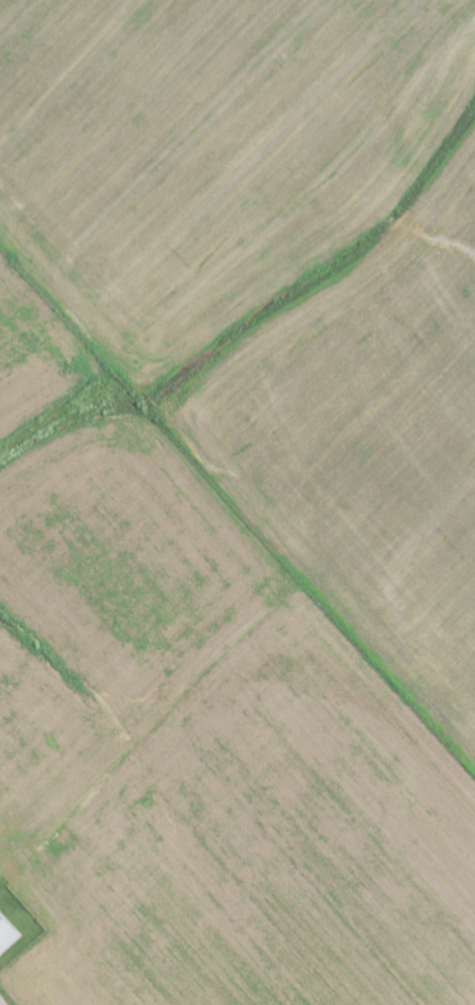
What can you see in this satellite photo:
building: (6, 933)

